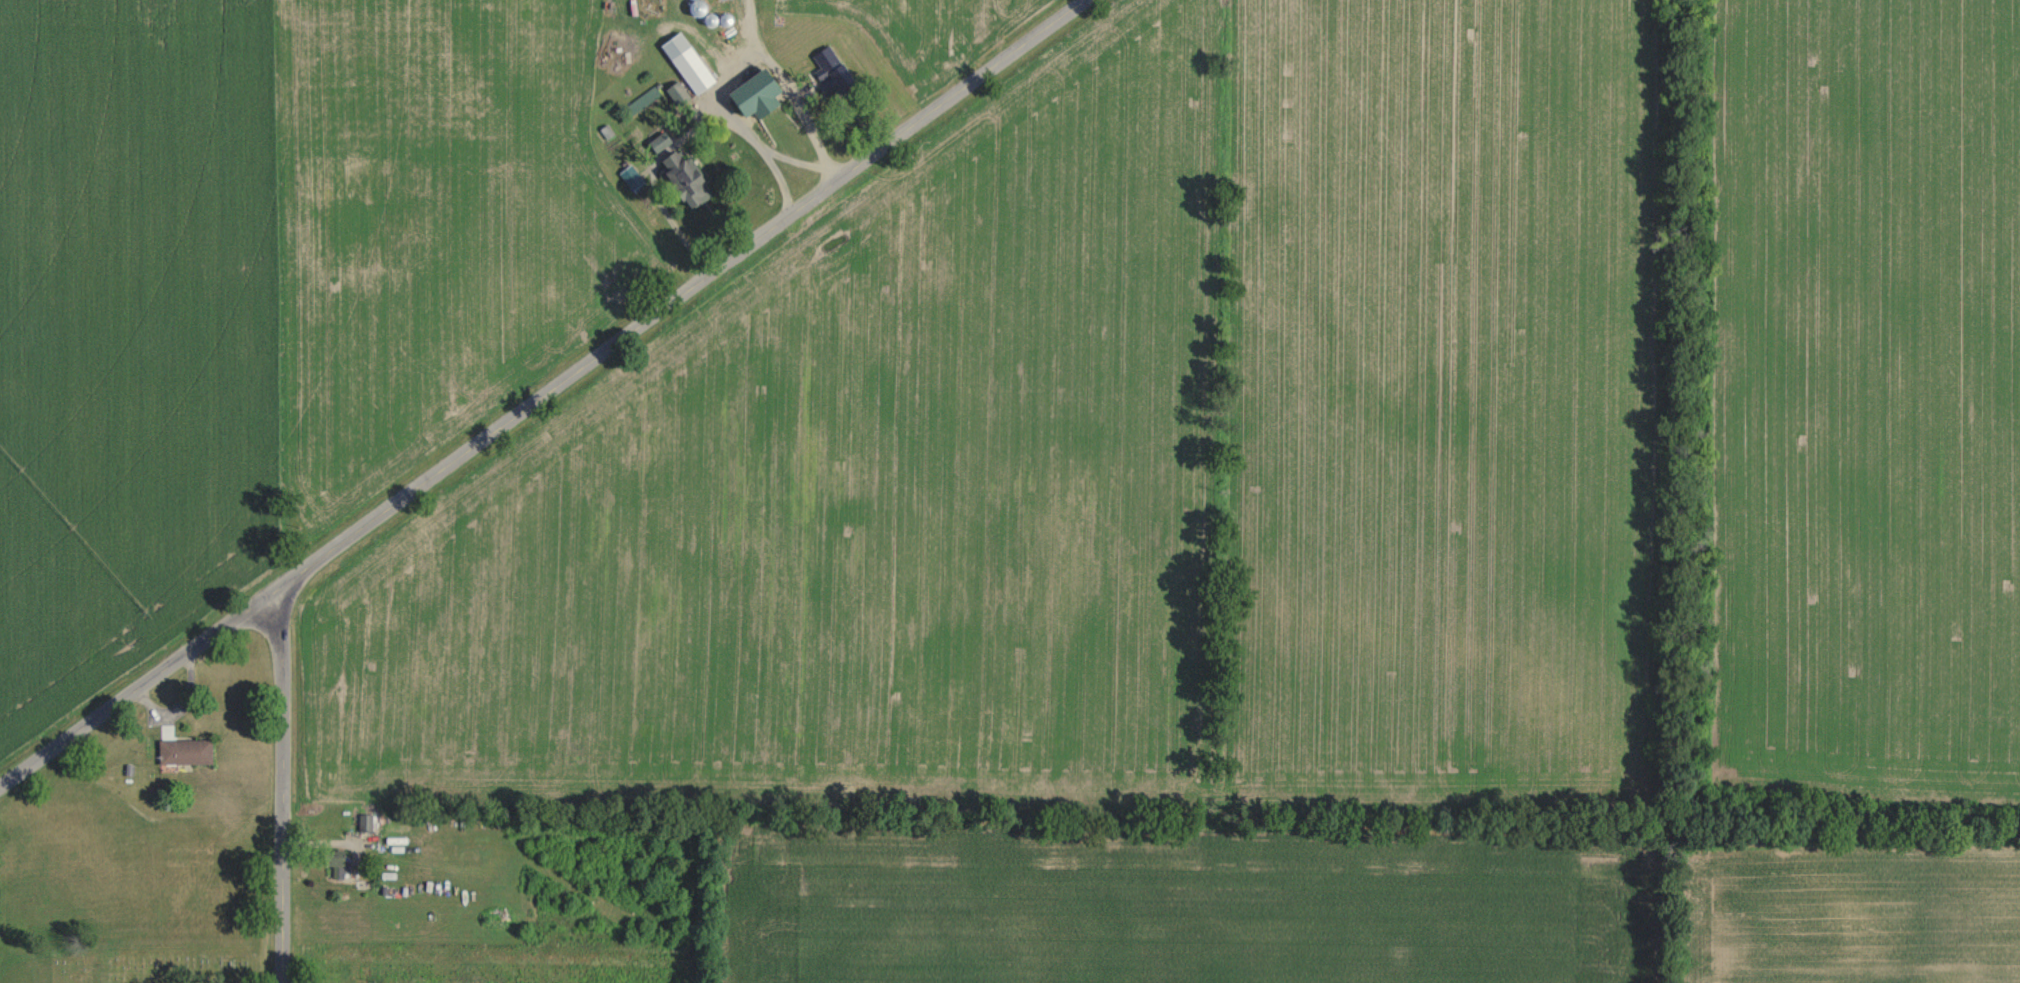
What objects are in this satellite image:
building: (695, 70)
road: (742, 71)
building: (833, 72)
building: (761, 95)
building: (644, 101)
road: (793, 160)
building: (691, 180)
road: (656, 182)
road: (543, 395)
building: (188, 752)
road: (282, 784)
building: (367, 823)
building: (340, 864)
park: (179, 966)

